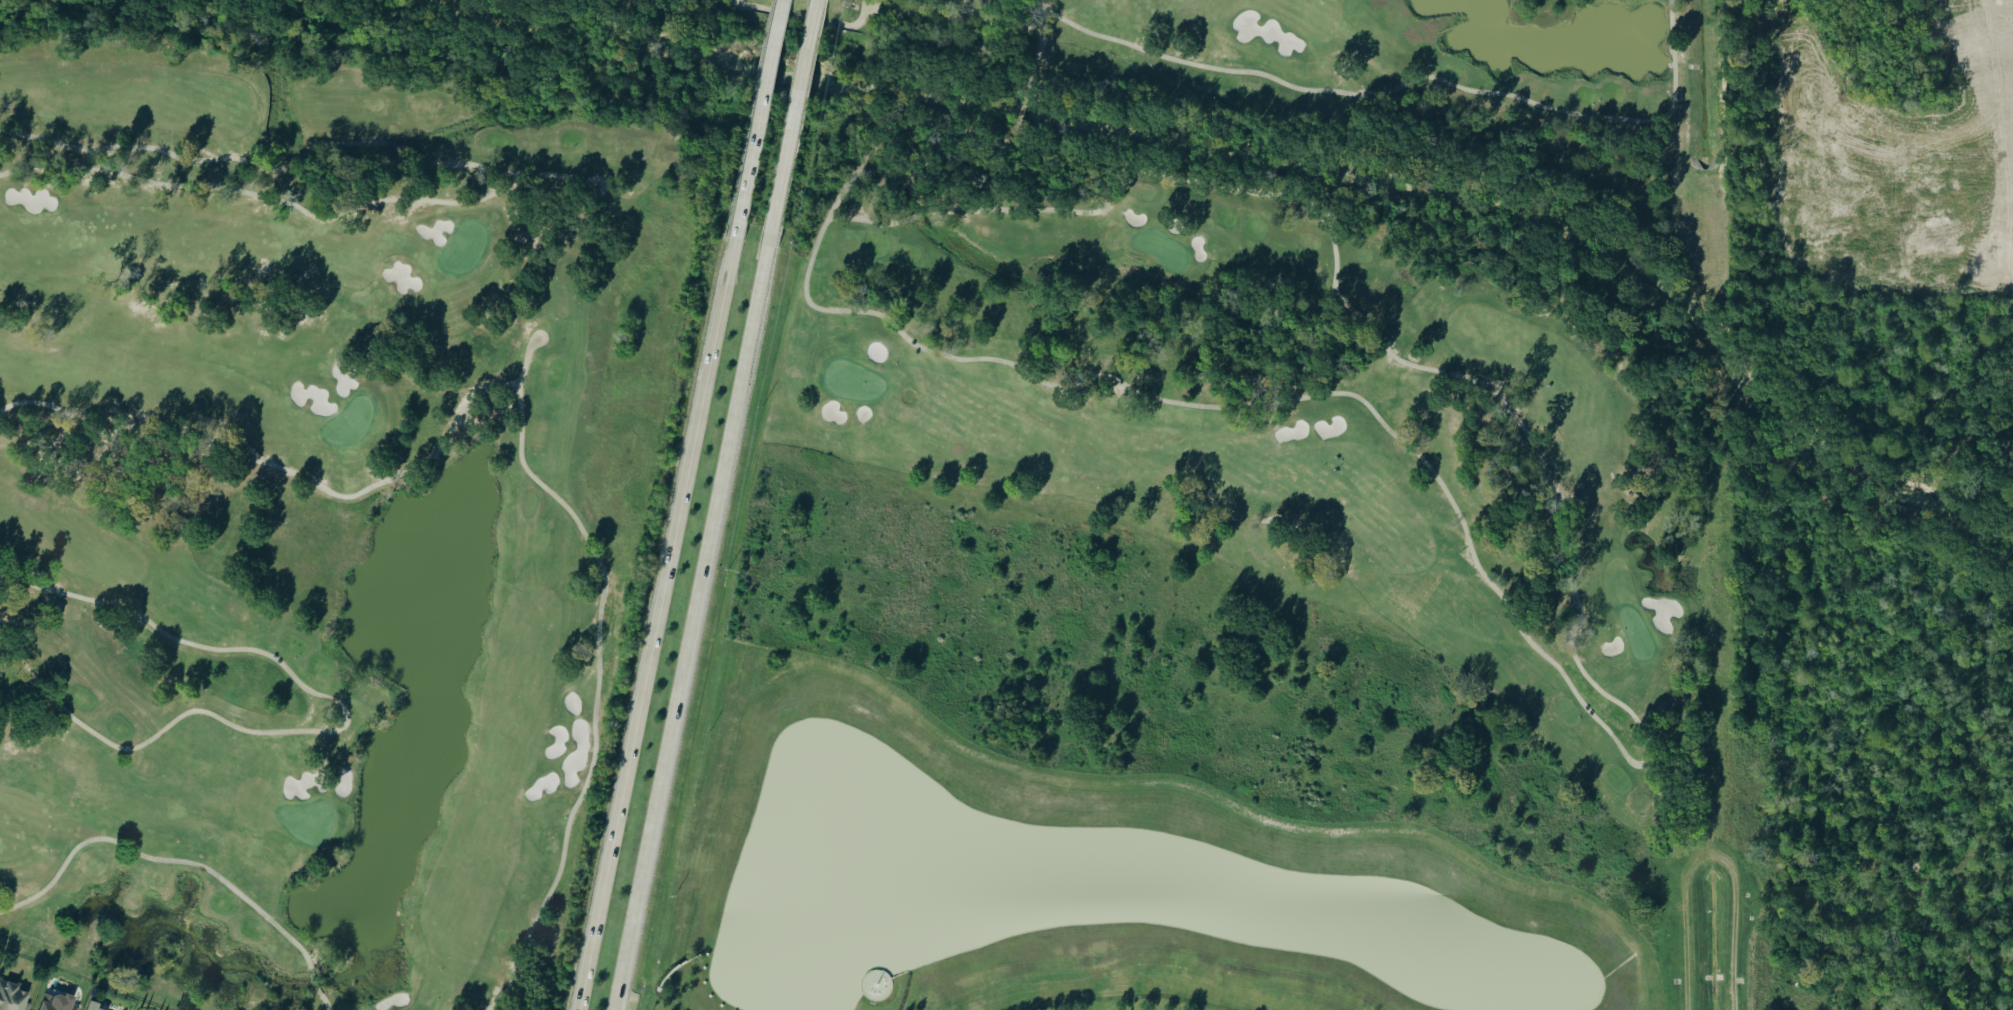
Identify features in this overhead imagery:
road: (759, 119)
road: (792, 123)
river: (1258, 165)
park: (1282, 356)
park: (315, 505)
road: (659, 624)
road: (695, 628)
building: (11, 997)
building: (55, 1003)
building: (91, 1006)

